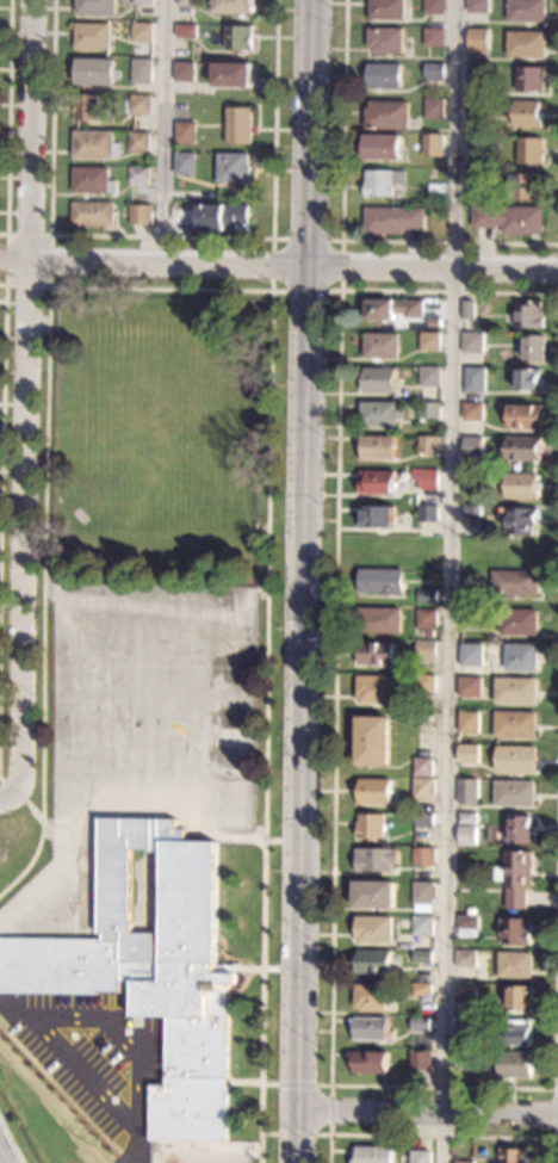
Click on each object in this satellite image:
building: (142, 1)
building: (187, 2)
building: (478, 6)
building: (95, 7)
building: (236, 7)
building: (435, 7)
building: (386, 8)
building: (527, 11)
building: (186, 31)
building: (142, 32)
building: (93, 36)
building: (238, 37)
building: (434, 37)
building: (386, 41)
building: (478, 44)
building: (526, 44)
building: (141, 70)
building: (434, 70)
building: (185, 72)
building: (95, 73)
building: (232, 74)
building: (478, 74)
building: (384, 76)
building: (531, 79)
building: (141, 101)
building: (476, 106)
building: (88, 107)
building: (435, 107)
building: (528, 115)
building: (387, 116)
road: (8, 119)
building: (240, 125)
road: (165, 131)
building: (185, 132)
building: (139, 141)
building: (477, 141)
building: (434, 143)
building: (97, 144)
building: (385, 147)
building: (531, 150)
building: (185, 163)
building: (234, 167)
building: (432, 173)
building: (138, 174)
building: (475, 174)
building: (94, 180)
building: (384, 183)
building: (525, 187)
building: (436, 191)
building: (178, 209)
building: (93, 214)
building: (141, 215)
building: (222, 216)
building: (509, 218)
building: (393, 219)
road: (342, 228)
road: (163, 236)
road: (339, 240)
road: (278, 265)
road: (49, 286)
road: (273, 303)
building: (395, 309)
building: (469, 309)
building: (531, 316)
building: (438, 322)
road: (43, 323)
building: (430, 341)
building: (473, 342)
building: (383, 345)
building: (534, 348)
building: (430, 376)
building: (382, 379)
building: (475, 379)
building: (529, 379)
road: (29, 401)
building: (429, 410)
building: (473, 412)
building: (382, 414)
building: (527, 416)
building: (429, 444)
building: (473, 445)
building: (379, 447)
building: (525, 449)
building: (427, 478)
building: (379, 482)
building: (523, 485)
building: (472, 509)
building: (428, 513)
building: (378, 516)
building: (520, 520)
road: (2, 528)
road: (303, 581)
road: (452, 581)
building: (383, 582)
building: (515, 584)
road: (263, 592)
road: (50, 596)
building: (428, 596)
building: (470, 596)
building: (471, 617)
building: (427, 619)
building: (382, 620)
building: (520, 621)
building: (430, 633)
road: (256, 644)
building: (426, 650)
building: (377, 654)
building: (472, 655)
building: (521, 657)
building: (424, 683)
building: (470, 687)
building: (374, 689)
building: (515, 691)
building: (469, 722)
building: (515, 724)
building: (373, 742)
park: (236, 753)
building: (469, 754)
building: (516, 759)
building: (423, 767)
building: (423, 788)
building: (374, 792)
building: (467, 792)
building: (514, 793)
road: (21, 798)
road: (7, 800)
park: (236, 806)
building: (466, 818)
building: (423, 819)
road: (46, 824)
building: (371, 825)
building: (521, 829)
building: (466, 835)
road: (241, 837)
building: (424, 858)
building: (377, 860)
road: (331, 867)
building: (515, 878)
building: (374, 895)
building: (423, 896)
building: (470, 911)
building: (423, 926)
building: (467, 926)
building: (373, 929)
building: (516, 930)
building: (422, 957)
building: (466, 959)
building: (373, 963)
building: (515, 965)
road: (250, 969)
building: (151, 970)
building: (421, 989)
building: (465, 990)
building: (370, 997)
building: (520, 997)
building: (465, 1022)
building: (420, 1023)
building: (371, 1028)
building: (520, 1032)
parking lot: (98, 1054)
building: (420, 1060)
building: (465, 1060)
building: (368, 1062)
building: (514, 1065)
road: (244, 1083)
road: (62, 1096)
road: (330, 1109)
road: (426, 1109)
road: (553, 1113)
road: (440, 1134)
road: (255, 1149)
building: (372, 1155)
building: (513, 1156)
building: (420, 1157)
building: (464, 1162)

